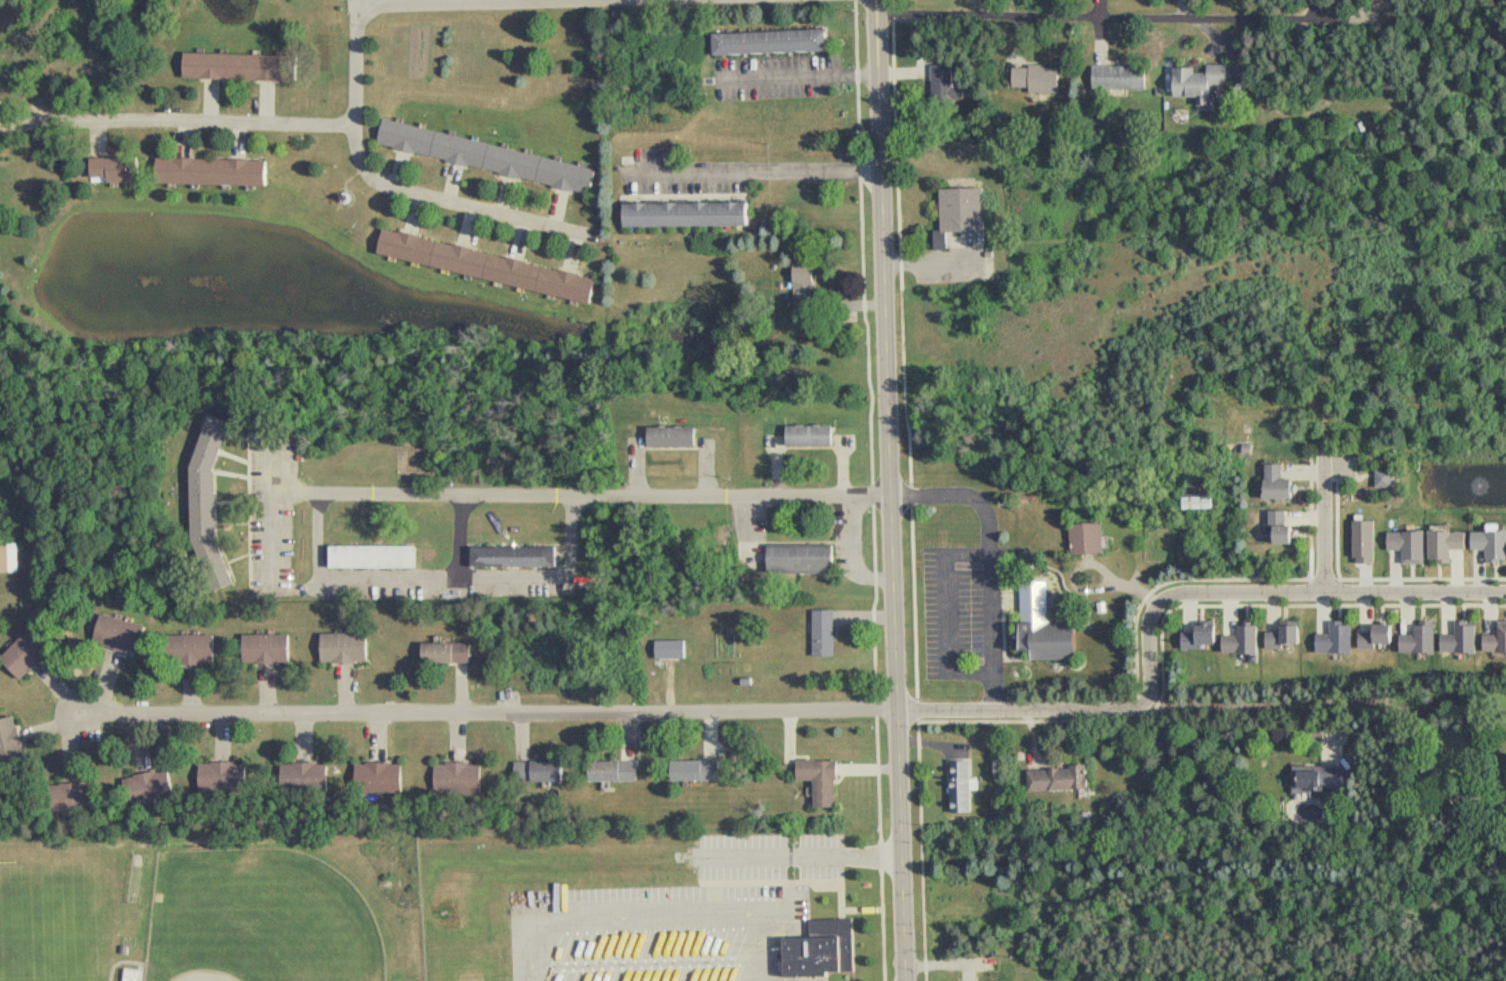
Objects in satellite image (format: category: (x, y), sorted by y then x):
road: (473, 1)
road: (515, 1)
road: (428, 3)
road: (363, 5)
road: (1119, 18)
building: (768, 42)
building: (239, 65)
building: (1125, 75)
road: (800, 77)
building: (1206, 78)
building: (1039, 79)
building: (943, 88)
building: (4, 118)
road: (198, 120)
building: (485, 157)
building: (118, 169)
building: (218, 171)
road: (758, 174)
road: (458, 203)
building: (967, 208)
building: (684, 214)
building: (485, 266)
building: (803, 295)
building: (815, 435)
building: (678, 438)
road: (636, 471)
building: (1382, 479)
building: (1279, 481)
road: (891, 490)
building: (1196, 496)
road: (582, 497)
building: (215, 505)
road: (273, 506)
road: (1325, 522)
building: (1284, 525)
road: (749, 532)
road: (465, 537)
building: (1092, 537)
building: (1369, 539)
building: (1449, 541)
building: (1412, 544)
building: (1493, 544)
building: (519, 553)
road: (852, 553)
building: (379, 558)
building: (806, 558)
road: (989, 558)
building: (8, 559)
road: (444, 577)
road: (1276, 593)
road: (947, 614)
building: (1049, 626)
building: (829, 631)
building: (1288, 633)
building: (125, 634)
building: (1205, 634)
building: (1381, 634)
building: (1425, 635)
building: (1339, 637)
building: (1465, 638)
building: (1246, 640)
building: (1498, 641)
building: (350, 647)
building: (677, 647)
building: (272, 648)
building: (199, 649)
building: (452, 651)
building: (34, 652)
road: (1321, 706)
road: (613, 712)
building: (16, 746)
building: (702, 769)
building: (619, 770)
building: (546, 771)
building: (311, 777)
building: (227, 778)
building: (1321, 778)
building: (465, 779)
building: (1064, 779)
building: (385, 780)
building: (828, 781)
building: (1501, 783)
building: (964, 786)
building: (152, 792)
building: (70, 802)
road: (800, 855)
road: (651, 915)
park: (268, 917)
building: (827, 949)
building: (132, 975)

